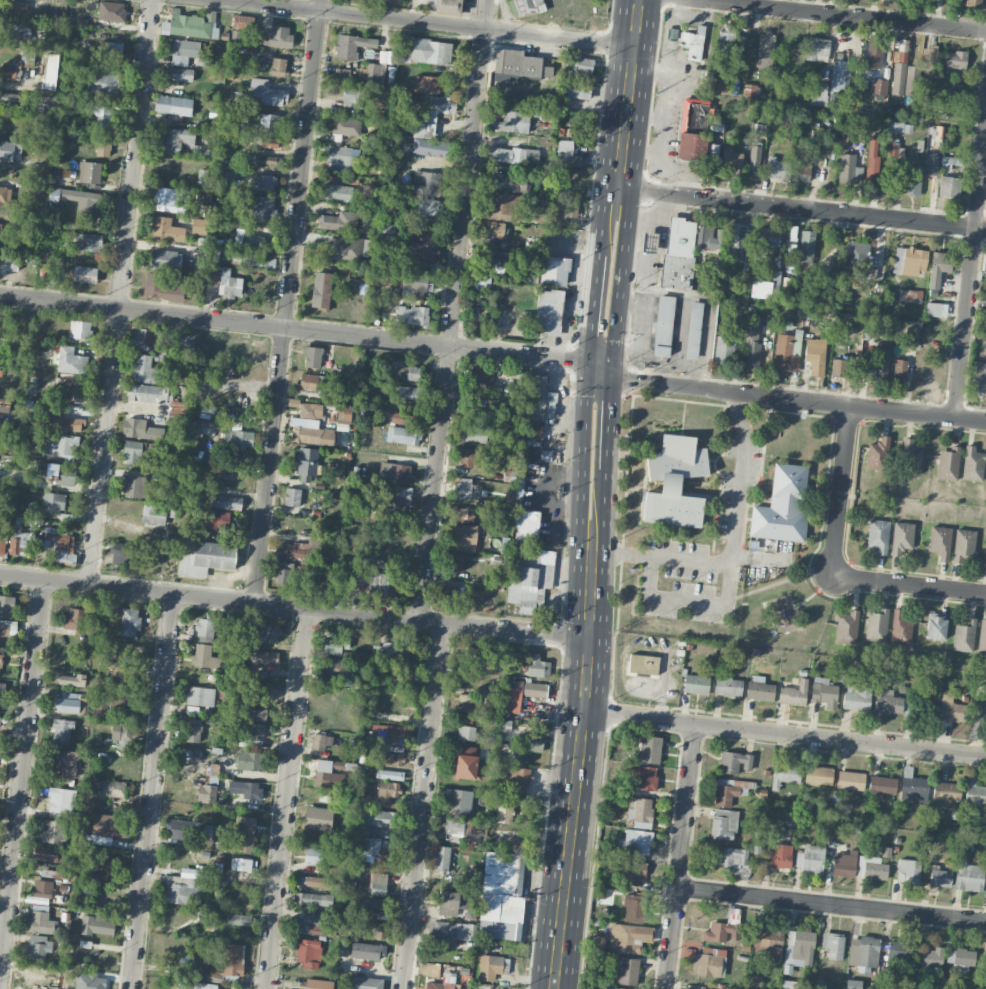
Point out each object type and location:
building: (974, 2)
building: (17, 7)
building: (448, 7)
building: (526, 7)
building: (111, 11)
road: (844, 15)
building: (242, 22)
road: (430, 22)
building: (190, 24)
building: (16, 33)
building: (671, 34)
building: (277, 37)
building: (725, 42)
building: (693, 43)
building: (348, 46)
building: (765, 49)
building: (817, 49)
building: (110, 50)
building: (426, 50)
building: (183, 51)
building: (873, 55)
building: (955, 59)
building: (930, 64)
building: (278, 66)
building: (582, 66)
building: (376, 68)
building: (10, 69)
building: (516, 70)
road: (632, 71)
building: (179, 74)
building: (341, 76)
building: (840, 76)
building: (898, 78)
building: (911, 80)
building: (105, 81)
building: (426, 84)
building: (879, 87)
building: (576, 90)
building: (749, 90)
building: (265, 93)
building: (818, 94)
building: (352, 97)
building: (9, 100)
building: (841, 103)
building: (173, 105)
building: (436, 108)
building: (103, 117)
building: (511, 122)
building: (266, 124)
building: (346, 126)
building: (894, 126)
building: (177, 139)
building: (266, 142)
building: (429, 145)
building: (691, 146)
building: (103, 148)
building: (209, 148)
building: (10, 150)
building: (893, 152)
building: (567, 154)
building: (513, 155)
building: (343, 158)
building: (711, 158)
building: (260, 159)
building: (731, 159)
building: (754, 161)
building: (872, 161)
building: (931, 165)
building: (777, 168)
building: (849, 169)
building: (800, 170)
building: (89, 172)
building: (201, 177)
building: (911, 181)
building: (507, 182)
building: (266, 183)
building: (427, 183)
building: (949, 187)
building: (35, 190)
building: (334, 192)
building: (4, 195)
road: (604, 196)
building: (79, 200)
building: (171, 200)
building: (567, 204)
building: (539, 206)
building: (428, 207)
building: (504, 207)
building: (262, 209)
road: (795, 209)
building: (367, 220)
building: (338, 221)
building: (199, 226)
building: (492, 229)
building: (166, 230)
building: (386, 230)
building: (0, 231)
building: (720, 235)
building: (238, 237)
building: (254, 242)
building: (649, 242)
building: (88, 243)
building: (765, 243)
building: (551, 245)
building: (806, 246)
building: (422, 247)
building: (678, 253)
building: (247, 258)
building: (166, 260)
building: (494, 260)
road: (625, 260)
building: (856, 260)
building: (909, 260)
building: (12, 263)
building: (984, 263)
building: (938, 267)
building: (554, 271)
building: (84, 274)
road: (970, 276)
building: (799, 280)
building: (229, 284)
building: (414, 285)
building: (161, 288)
building: (764, 288)
building: (321, 290)
road: (119, 291)
building: (910, 295)
road: (287, 301)
building: (983, 303)
road: (593, 308)
building: (937, 309)
road: (453, 310)
building: (548, 311)
building: (411, 315)
building: (663, 325)
road: (294, 328)
building: (693, 330)
building: (911, 336)
building: (139, 339)
building: (157, 339)
building: (185, 343)
building: (751, 348)
building: (724, 350)
building: (786, 352)
building: (815, 356)
building: (312, 357)
building: (70, 361)
traffic signals: (588, 362)
building: (879, 365)
building: (838, 367)
building: (147, 370)
road: (600, 371)
building: (899, 372)
building: (411, 373)
building: (482, 375)
building: (978, 377)
traffic signals: (613, 380)
building: (313, 382)
building: (354, 385)
building: (69, 390)
building: (150, 393)
building: (409, 394)
building: (536, 397)
road: (799, 399)
building: (181, 407)
building: (310, 411)
building: (344, 413)
building: (404, 419)
building: (65, 422)
road: (611, 424)
building: (195, 428)
building: (141, 429)
building: (532, 431)
building: (475, 434)
building: (313, 435)
building: (403, 435)
building: (238, 439)
building: (61, 445)
building: (131, 451)
building: (538, 454)
building: (878, 454)
building: (470, 457)
building: (911, 457)
building: (948, 463)
road: (583, 464)
building: (972, 464)
building: (306, 465)
building: (56, 472)
building: (395, 473)
building: (674, 482)
building: (134, 486)
building: (466, 489)
road: (842, 491)
building: (401, 494)
building: (292, 497)
building: (228, 502)
building: (53, 503)
building: (782, 505)
building: (462, 514)
building: (153, 515)
road: (606, 518)
building: (215, 519)
building: (526, 526)
building: (878, 535)
building: (461, 538)
building: (902, 538)
building: (940, 542)
building: (17, 543)
building: (58, 543)
building: (2, 544)
building: (964, 546)
road: (732, 549)
building: (294, 550)
building: (123, 552)
building: (984, 555)
building: (204, 557)
building: (336, 557)
building: (457, 561)
building: (286, 574)
building: (530, 578)
building: (378, 585)
road: (909, 585)
building: (450, 595)
road: (208, 597)
road: (684, 605)
building: (6, 606)
building: (74, 619)
road: (430, 621)
building: (129, 622)
building: (877, 625)
building: (900, 626)
building: (846, 627)
building: (205, 628)
building: (935, 628)
road: (516, 630)
building: (3, 634)
building: (268, 634)
building: (964, 635)
building: (982, 636)
building: (335, 644)
building: (122, 650)
building: (390, 652)
building: (473, 655)
building: (204, 656)
building: (266, 658)
building: (0, 659)
building: (643, 664)
building: (537, 666)
building: (333, 668)
building: (123, 675)
building: (71, 680)
building: (696, 684)
building: (728, 687)
building: (759, 689)
building: (1, 690)
building: (823, 692)
building: (522, 693)
building: (794, 693)
building: (200, 696)
building: (856, 697)
building: (888, 702)
building: (69, 703)
building: (113, 703)
building: (466, 703)
building: (254, 713)
building: (948, 713)
building: (978, 718)
building: (193, 730)
building: (252, 730)
building: (61, 731)
building: (466, 733)
road: (785, 733)
building: (122, 734)
building: (250, 741)
building: (320, 741)
building: (530, 742)
building: (649, 750)
building: (390, 758)
building: (249, 761)
building: (735, 762)
building: (65, 763)
building: (466, 766)
road: (21, 773)
building: (323, 773)
building: (785, 773)
building: (389, 775)
building: (818, 775)
building: (643, 777)
building: (520, 778)
road: (577, 778)
building: (850, 780)
building: (500, 784)
building: (882, 786)
building: (913, 787)
building: (112, 788)
building: (245, 789)
road: (151, 791)
building: (387, 791)
building: (729, 791)
building: (206, 793)
building: (975, 794)
building: (945, 795)
building: (362, 797)
road: (285, 798)
building: (457, 801)
building: (61, 802)
road: (422, 805)
building: (639, 812)
building: (505, 813)
building: (317, 818)
building: (723, 824)
building: (108, 825)
building: (457, 828)
building: (180, 829)
building: (51, 831)
building: (239, 836)
building: (374, 836)
building: (511, 841)
building: (637, 842)
building: (48, 855)
building: (316, 856)
road: (681, 856)
building: (780, 856)
building: (441, 858)
building: (810, 858)
building: (730, 859)
building: (241, 864)
building: (843, 865)
building: (105, 867)
building: (871, 867)
building: (908, 871)
building: (633, 872)
building: (63, 874)
building: (968, 875)
building: (940, 877)
building: (314, 882)
building: (378, 884)
building: (42, 889)
building: (184, 890)
building: (985, 893)
building: (501, 895)
building: (313, 899)
building: (374, 903)
building: (451, 903)
road: (832, 904)
building: (633, 908)
building: (40, 919)
building: (307, 923)
building: (96, 924)
building: (376, 930)
building: (450, 930)
building: (721, 932)
building: (629, 937)
building: (767, 940)
building: (597, 942)
building: (833, 945)
building: (38, 947)
building: (343, 948)
building: (798, 950)
building: (368, 951)
building: (863, 953)
building: (308, 954)
building: (898, 954)
building: (931, 958)
building: (961, 958)
building: (231, 959)
building: (709, 962)
building: (490, 967)
building: (984, 968)
building: (626, 971)
building: (444, 982)
building: (364, 983)
building: (318, 984)
building: (853, 984)
building: (194, 985)
building: (790, 985)
building: (612, 988)

